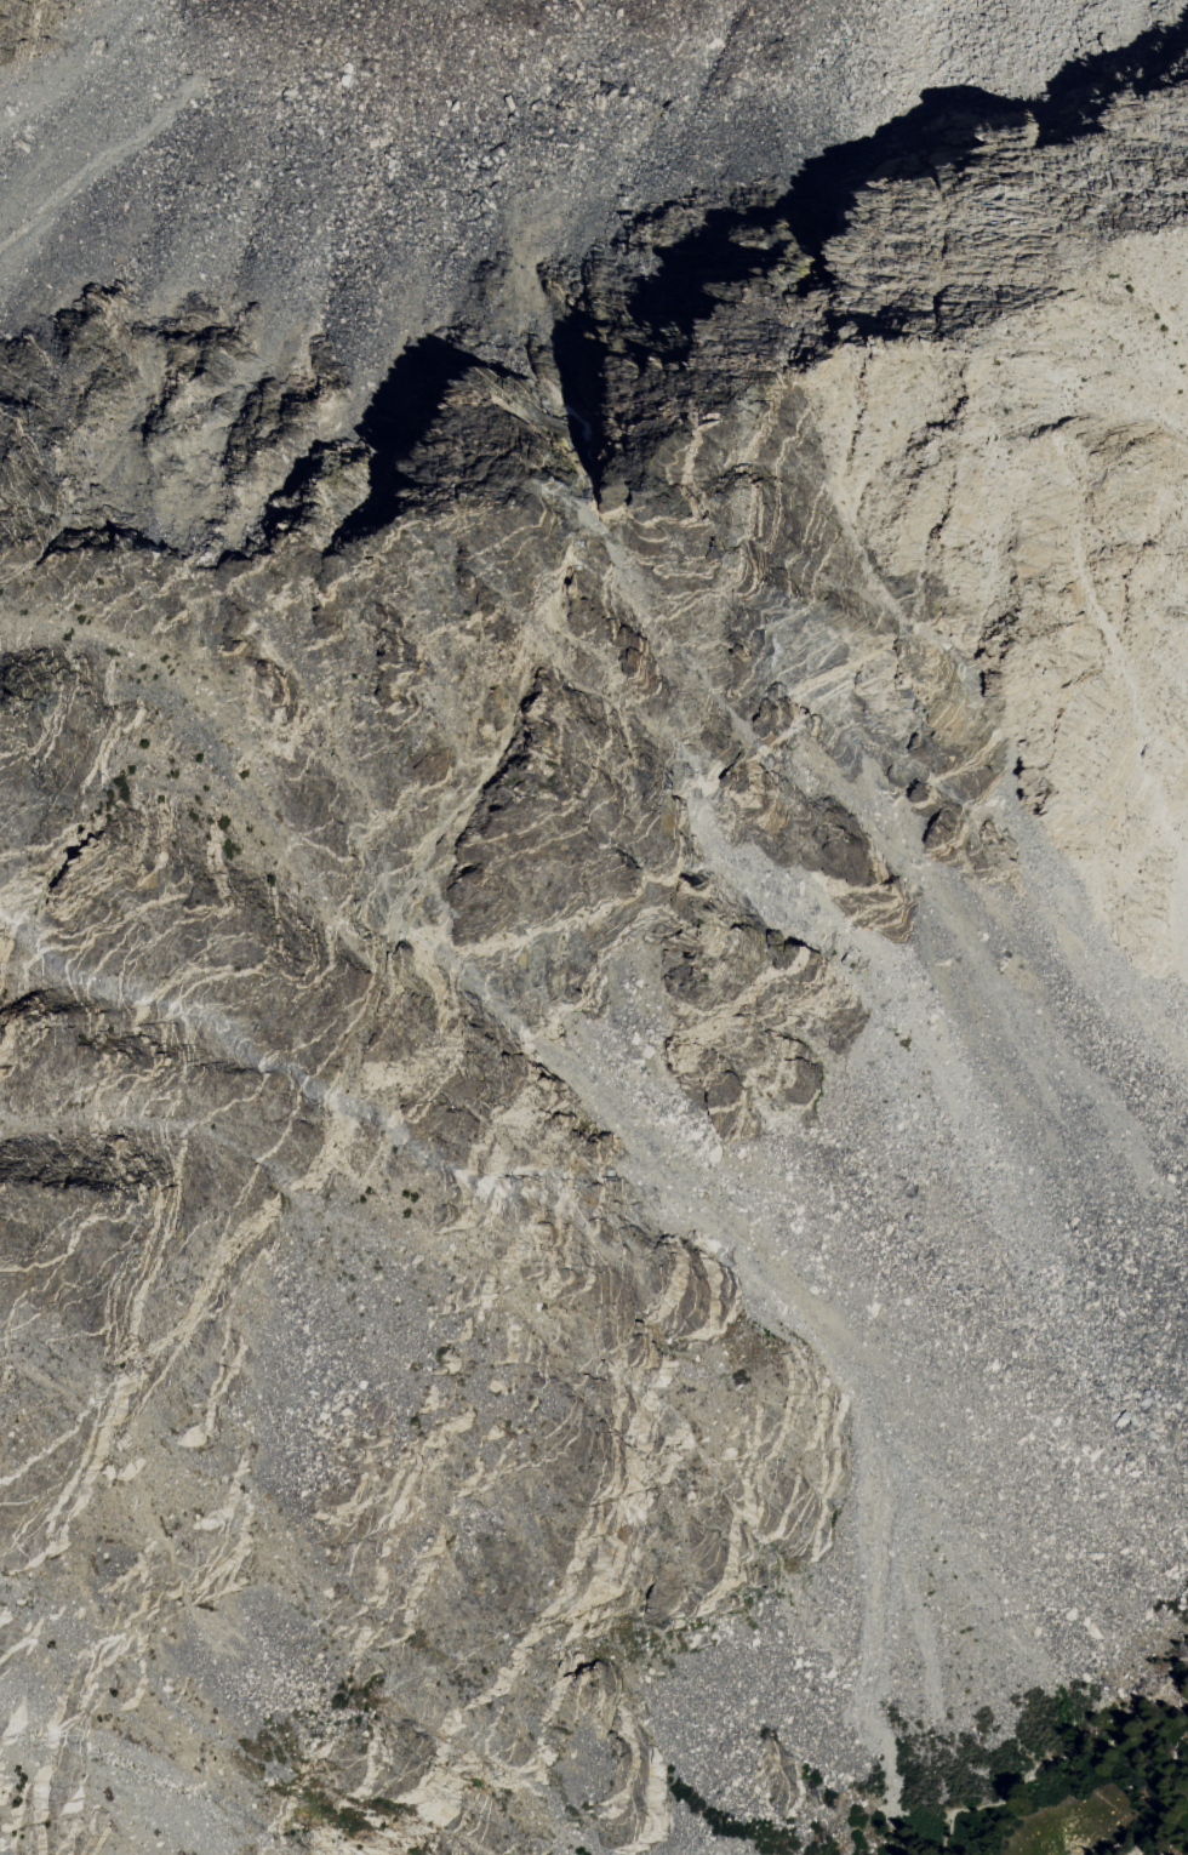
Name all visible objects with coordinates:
road: (1060, 1756)

